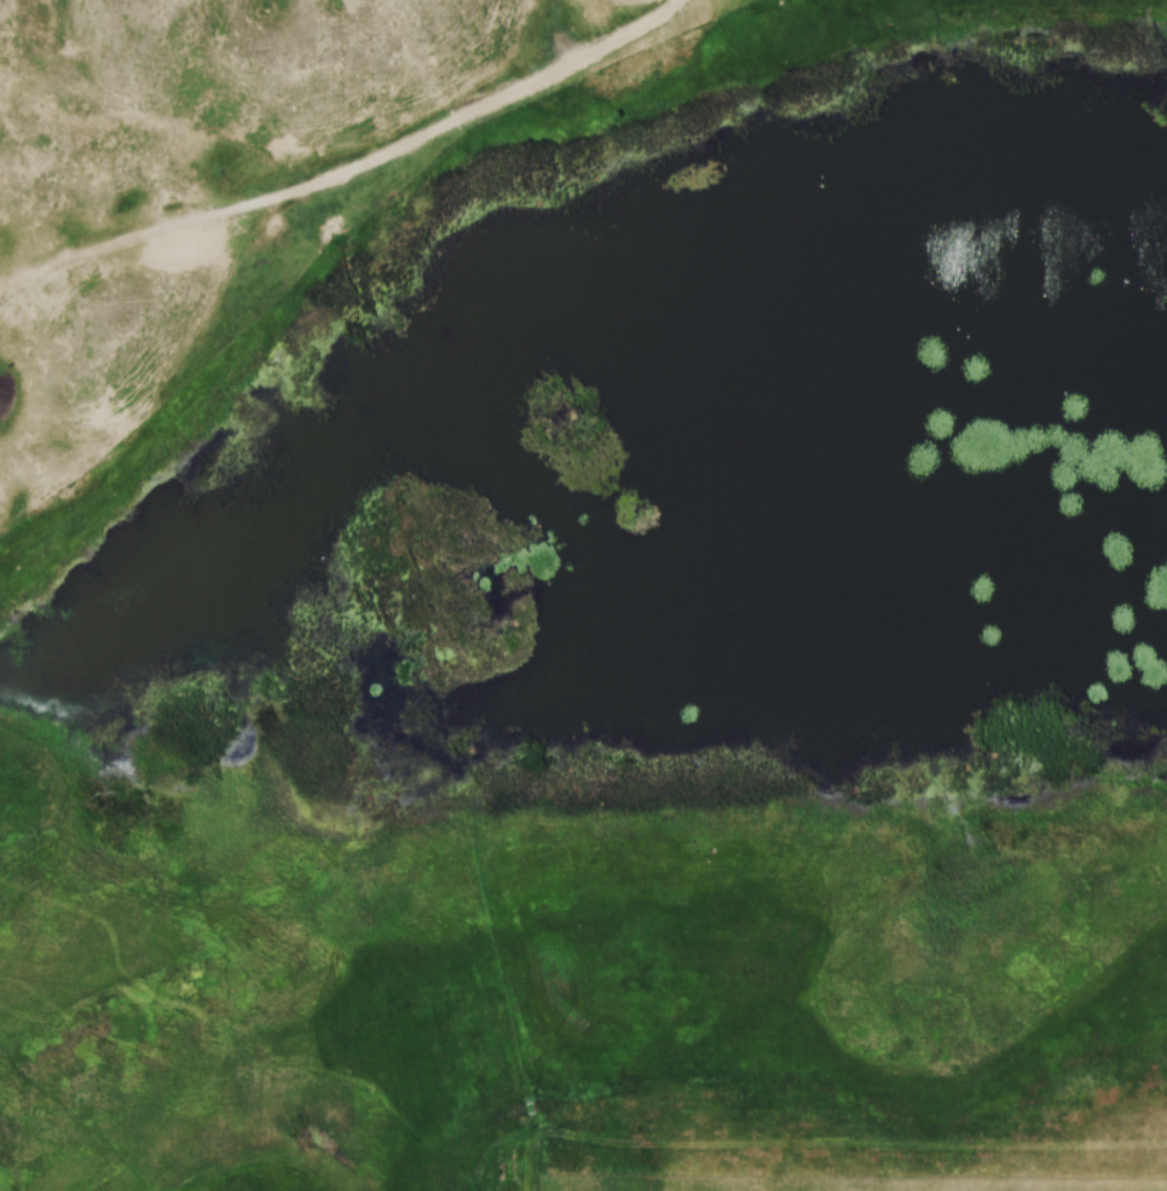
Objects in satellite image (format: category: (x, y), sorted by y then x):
road: (359, 180)

